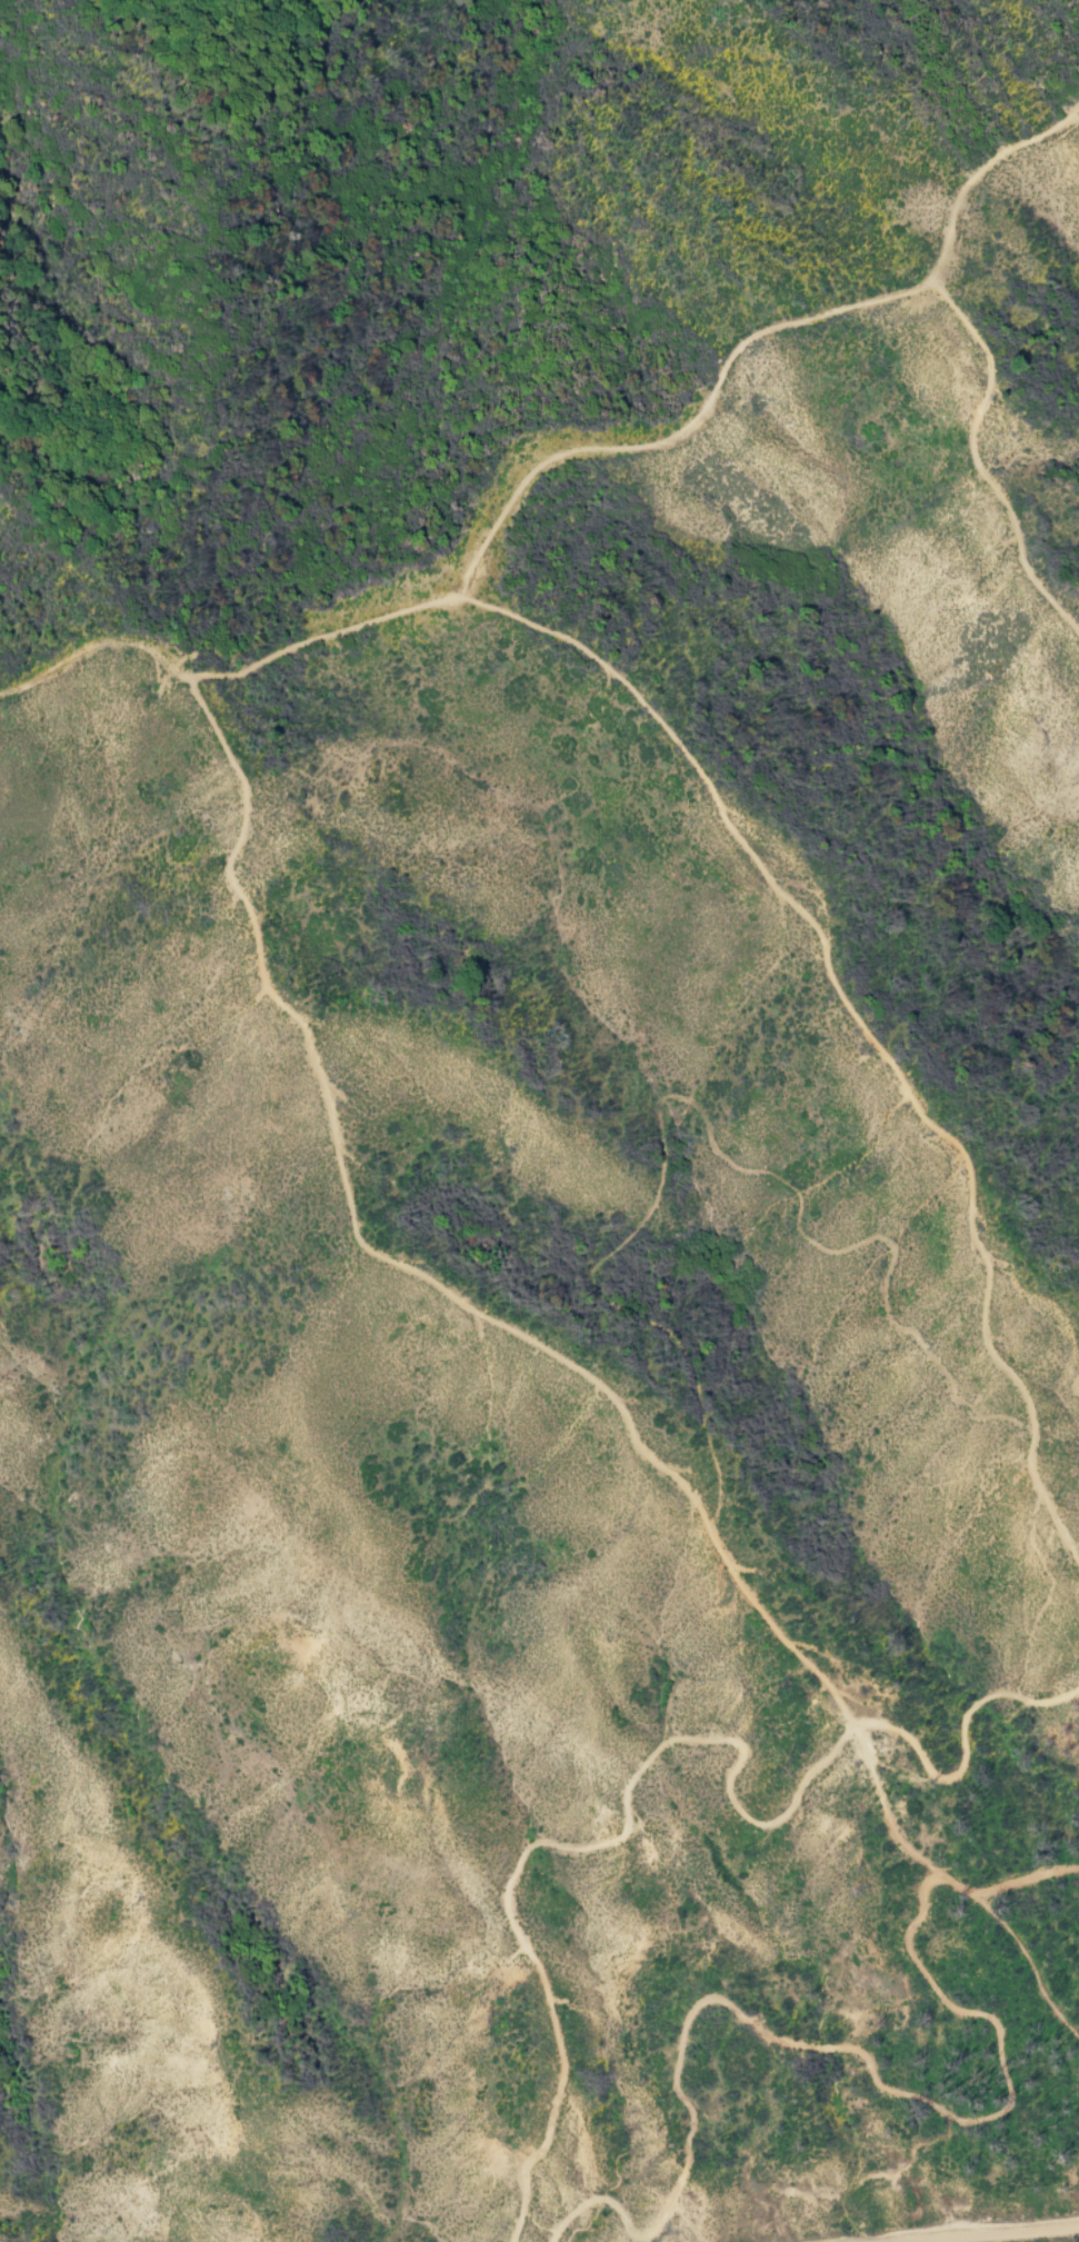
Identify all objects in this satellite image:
road: (978, 173)
road: (975, 466)
road: (488, 550)
road: (861, 1024)
road: (708, 1119)
road: (337, 1173)
road: (755, 1603)
road: (668, 1745)
road: (929, 1865)
road: (1023, 1885)
road: (827, 2052)
road: (980, 2234)
road: (640, 2241)

